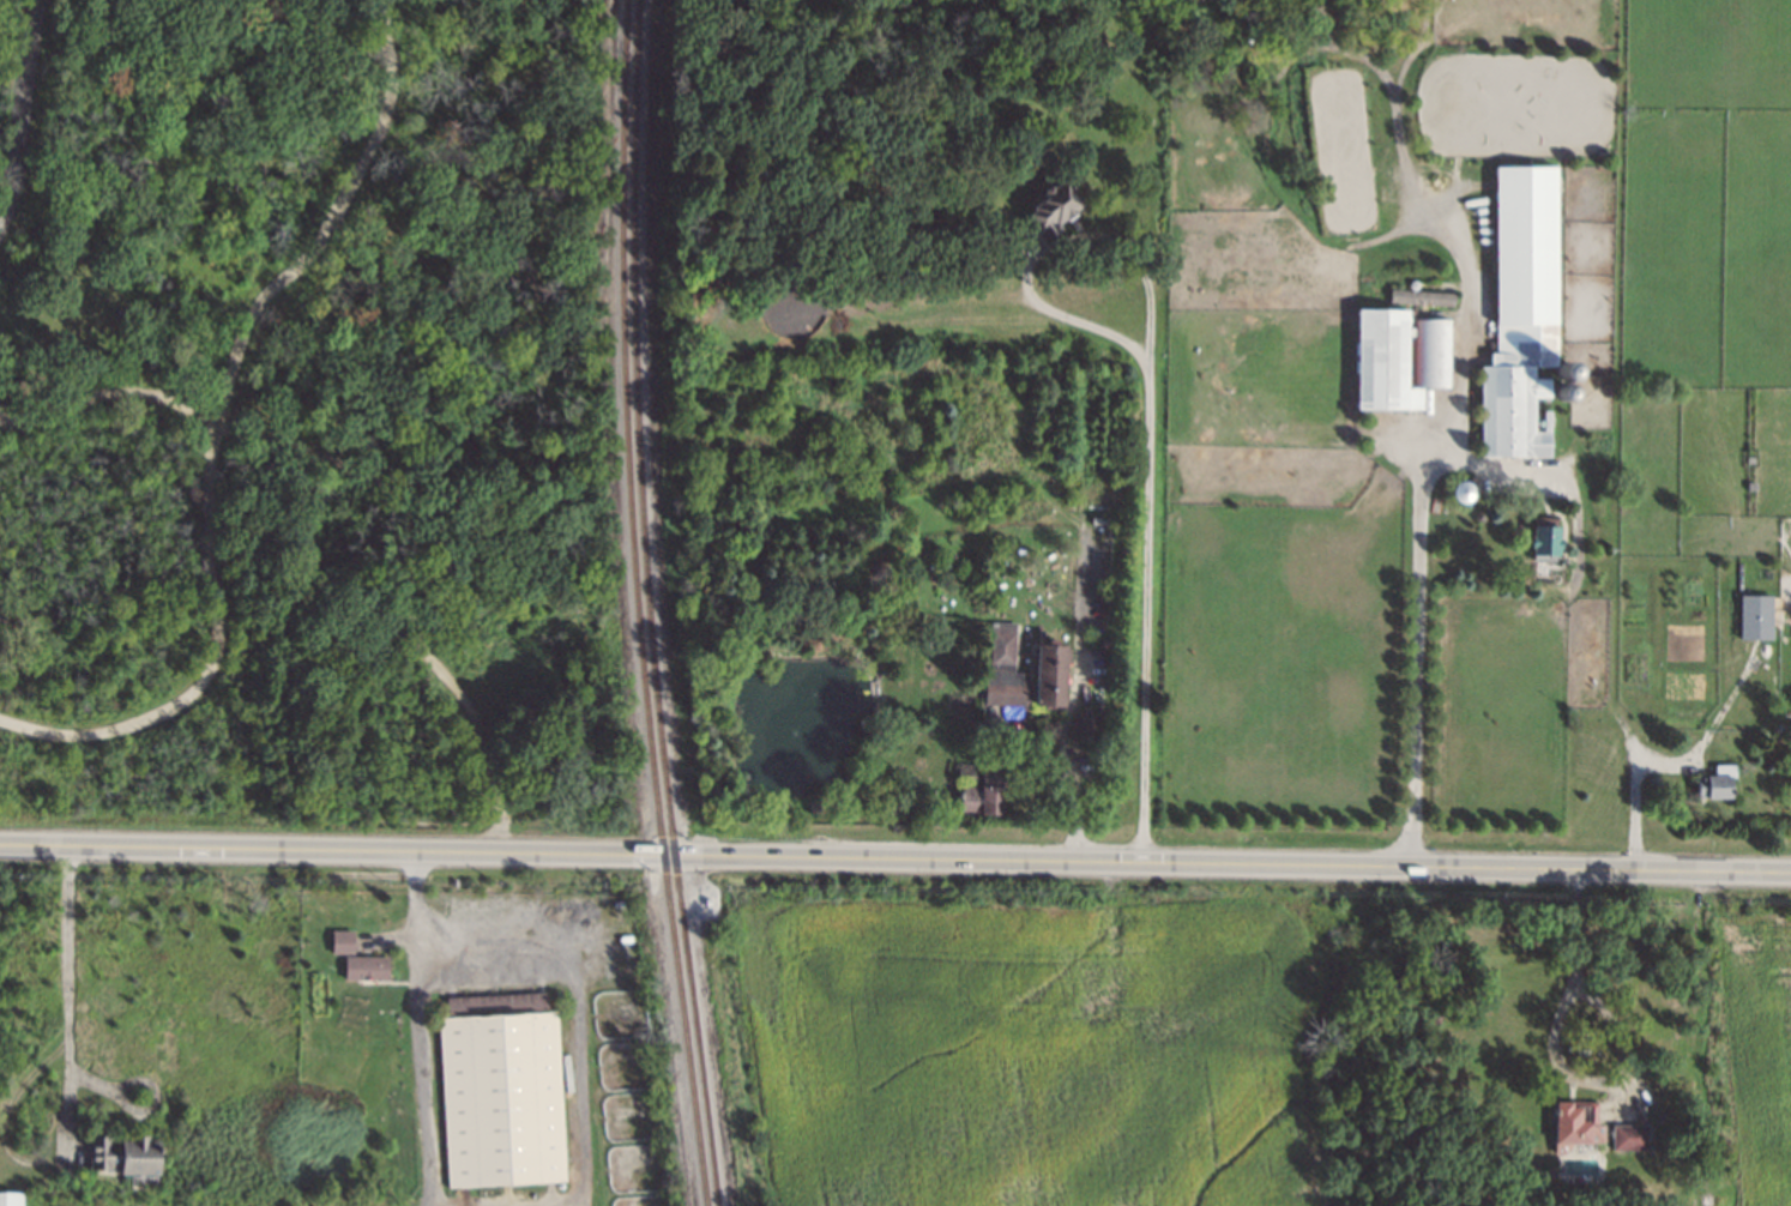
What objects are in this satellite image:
road: (26, 103)
building: (1053, 210)
building: (1422, 297)
building: (1522, 312)
crop: (1258, 331)
building: (1433, 354)
building: (1385, 361)
road: (1150, 405)
road: (221, 427)
road: (387, 490)
building: (1544, 538)
railway: (635, 604)
railway: (647, 604)
building: (1757, 616)
crop: (1282, 632)
road: (1418, 645)
crop: (1586, 651)
building: (1005, 668)
building: (1053, 674)
crop: (1501, 706)
building: (1085, 723)
road: (1066, 759)
building: (1718, 782)
building: (981, 800)
road: (331, 850)
road: (1226, 863)
building: (343, 941)
road: (436, 943)
building: (367, 967)
road: (66, 1005)
crop: (1762, 1044)
crop: (1038, 1053)
road: (1556, 1056)
building: (503, 1099)
building: (1578, 1124)
building: (1632, 1136)
building: (125, 1154)
building: (11, 1199)

